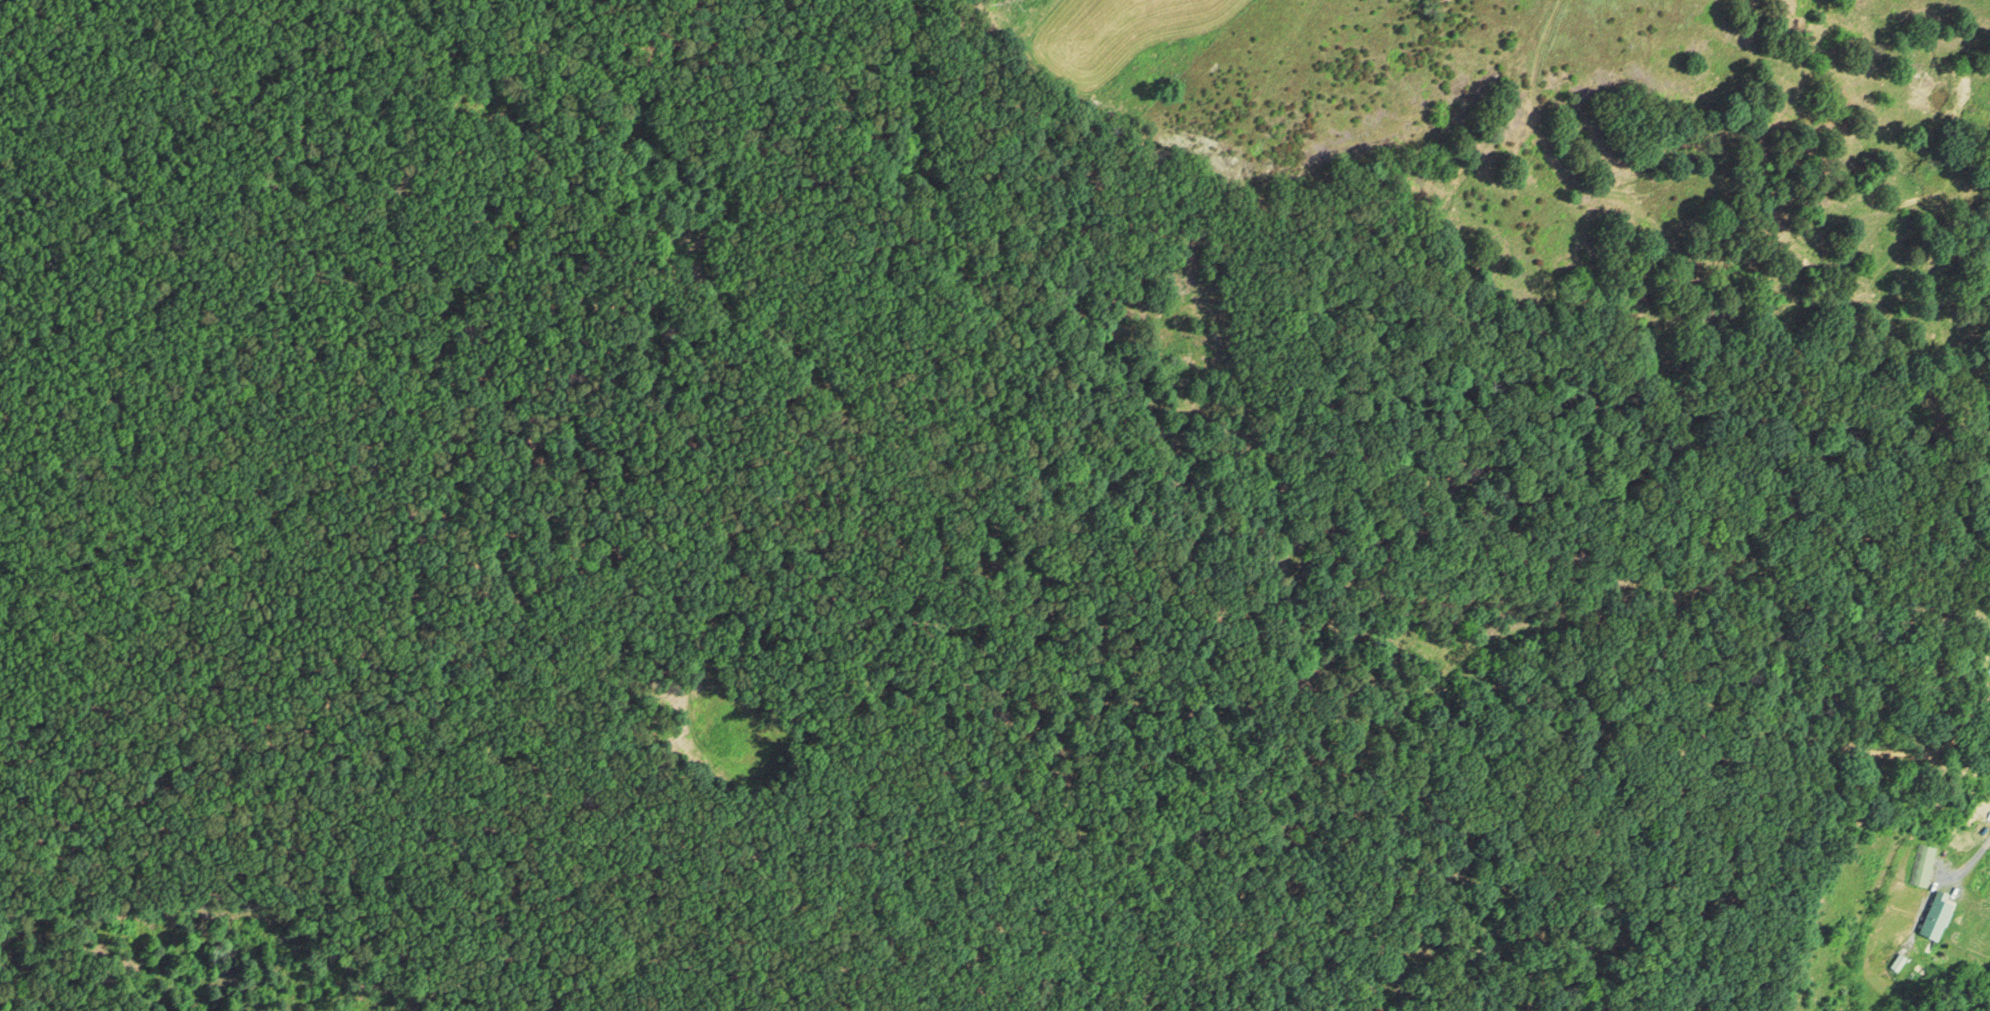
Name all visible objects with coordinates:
building: (1923, 863)
building: (1936, 917)

